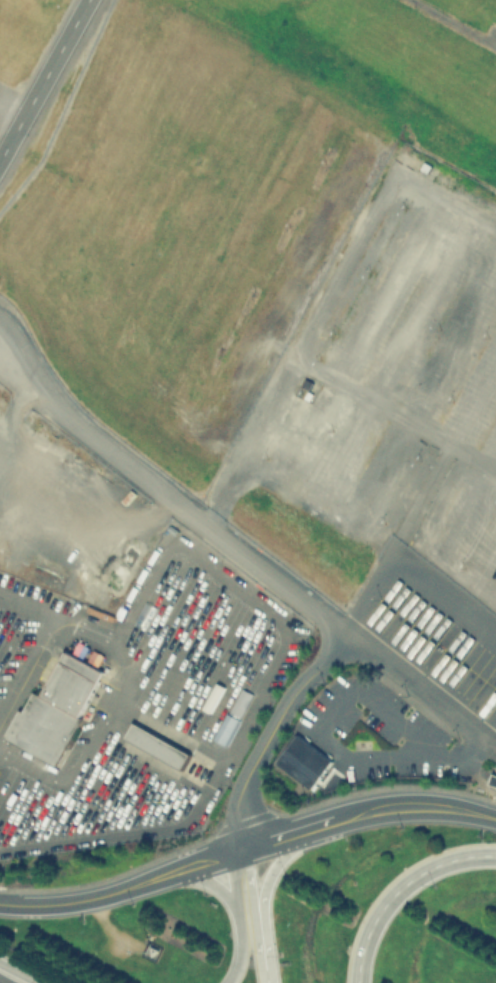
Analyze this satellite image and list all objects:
road: (456, 22)
road: (42, 77)
building: (427, 167)
airport: (258, 302)
parking lot: (0, 384)
building: (309, 384)
parking lot: (400, 421)
road: (446, 442)
road: (254, 564)
road: (213, 565)
road: (31, 605)
road: (63, 622)
parking lot: (134, 701)
building: (55, 706)
building: (232, 716)
road: (325, 718)
road: (270, 734)
building: (155, 744)
building: (299, 763)
road: (72, 776)
building: (494, 779)
road: (403, 808)
road: (190, 822)
road: (274, 838)
road: (211, 860)
road: (234, 882)
road: (216, 885)
road: (400, 889)
road: (263, 894)
road: (94, 898)
road: (254, 913)
road: (240, 949)
road: (18, 972)
road: (267, 980)

